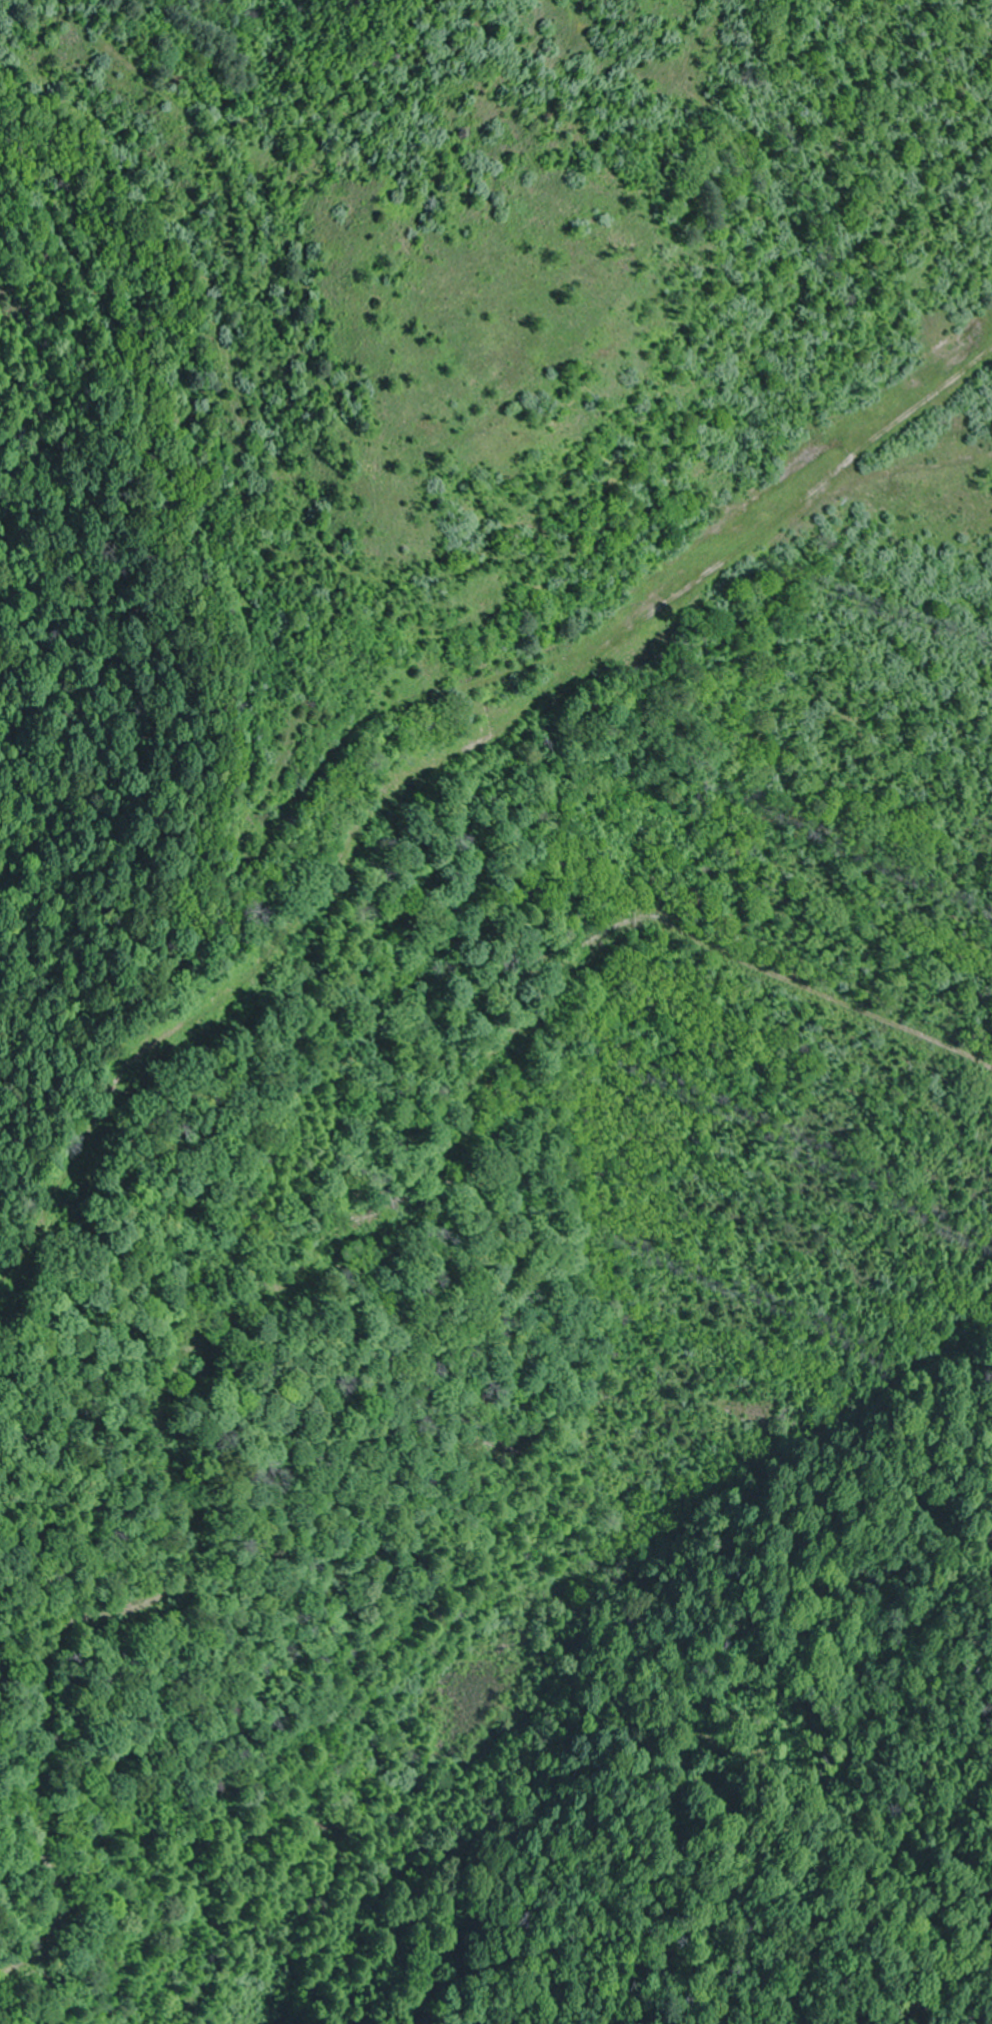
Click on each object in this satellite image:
building: (750, 543)

